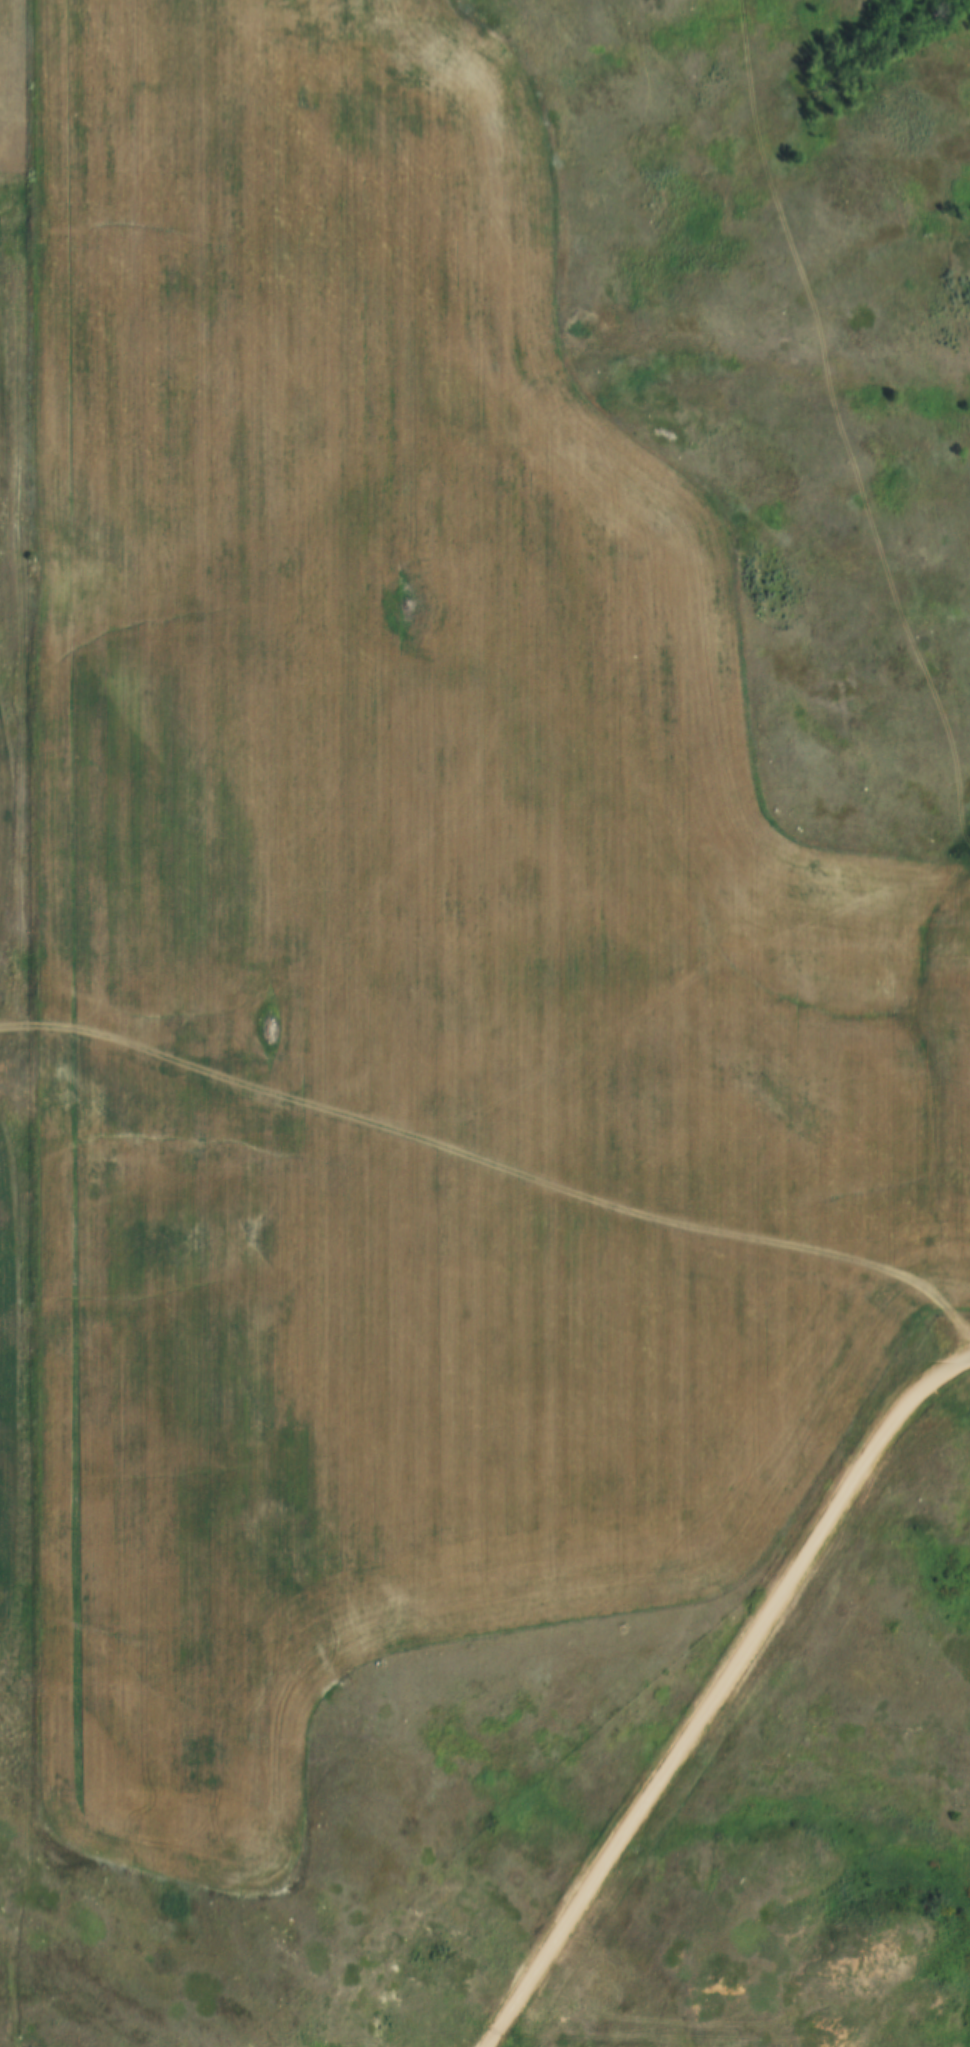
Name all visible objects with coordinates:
road: (536, 1025)
road: (720, 1693)

